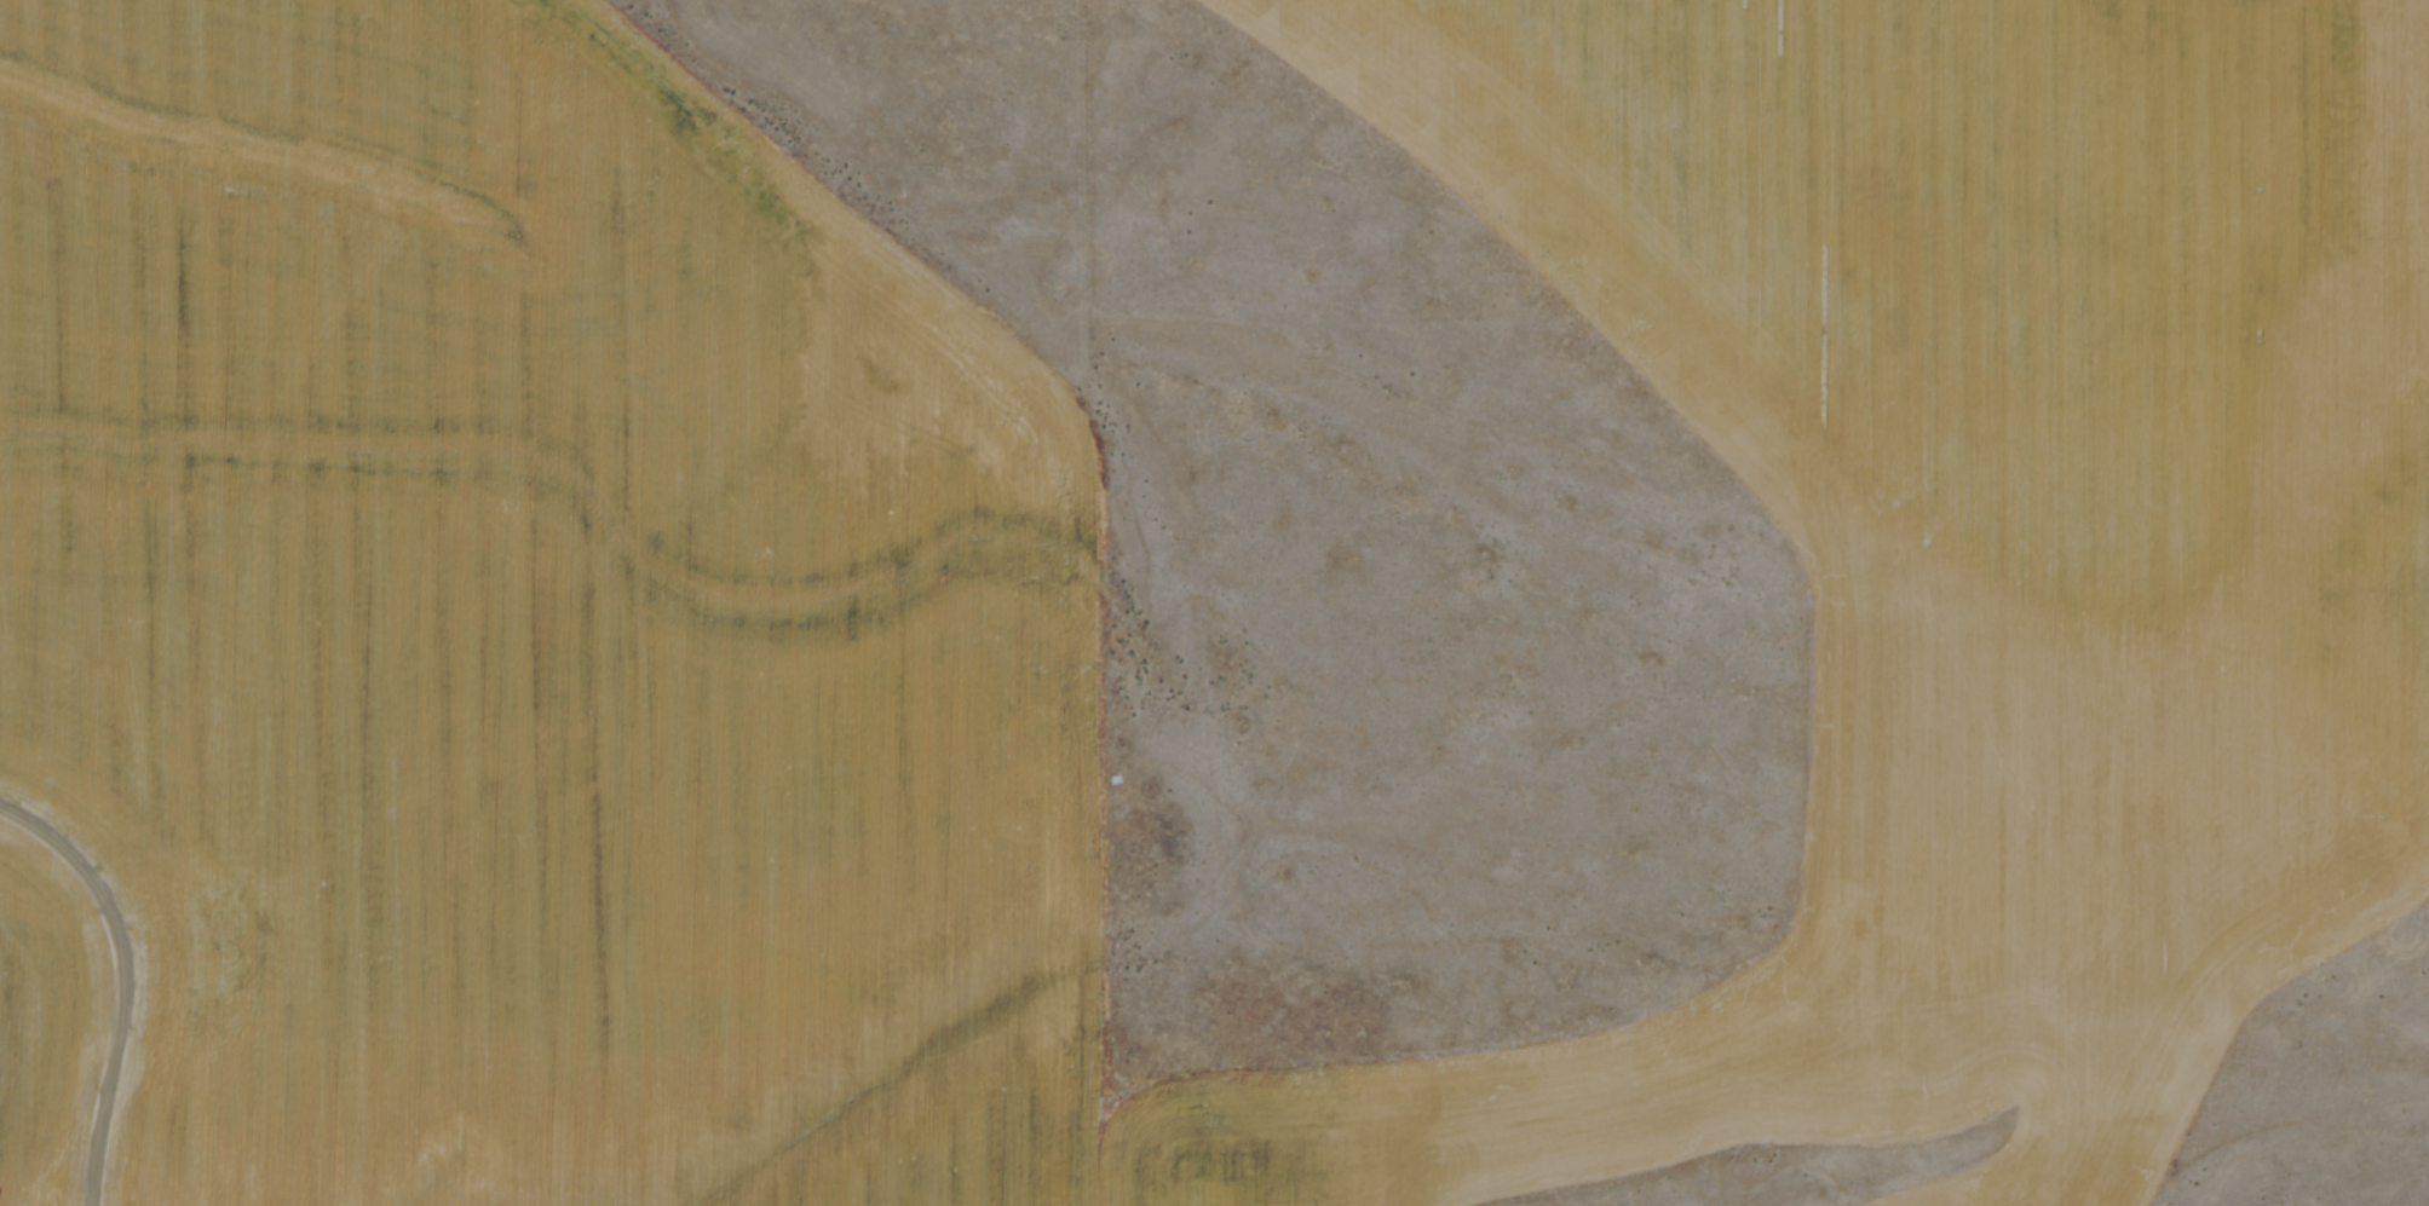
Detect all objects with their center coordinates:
road: (120, 979)

